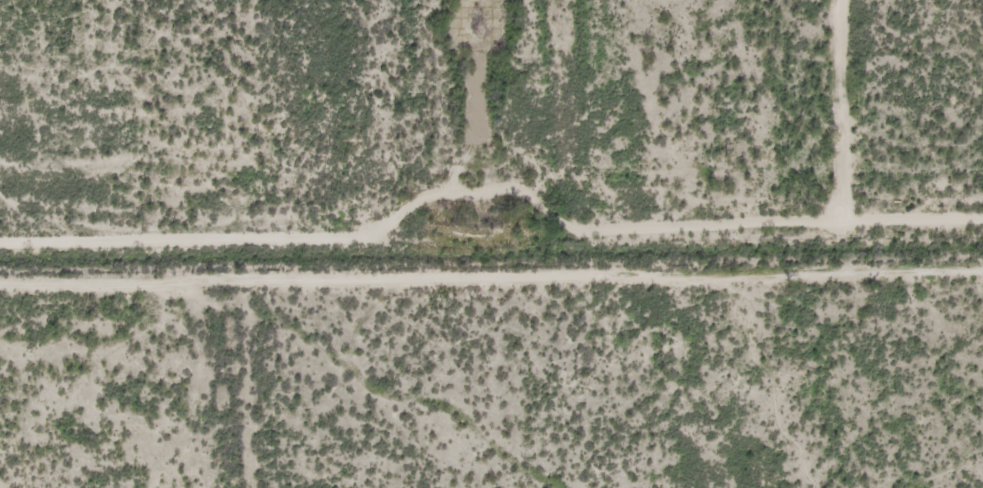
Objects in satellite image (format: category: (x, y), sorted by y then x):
airport: (483, 123)
road: (418, 399)

